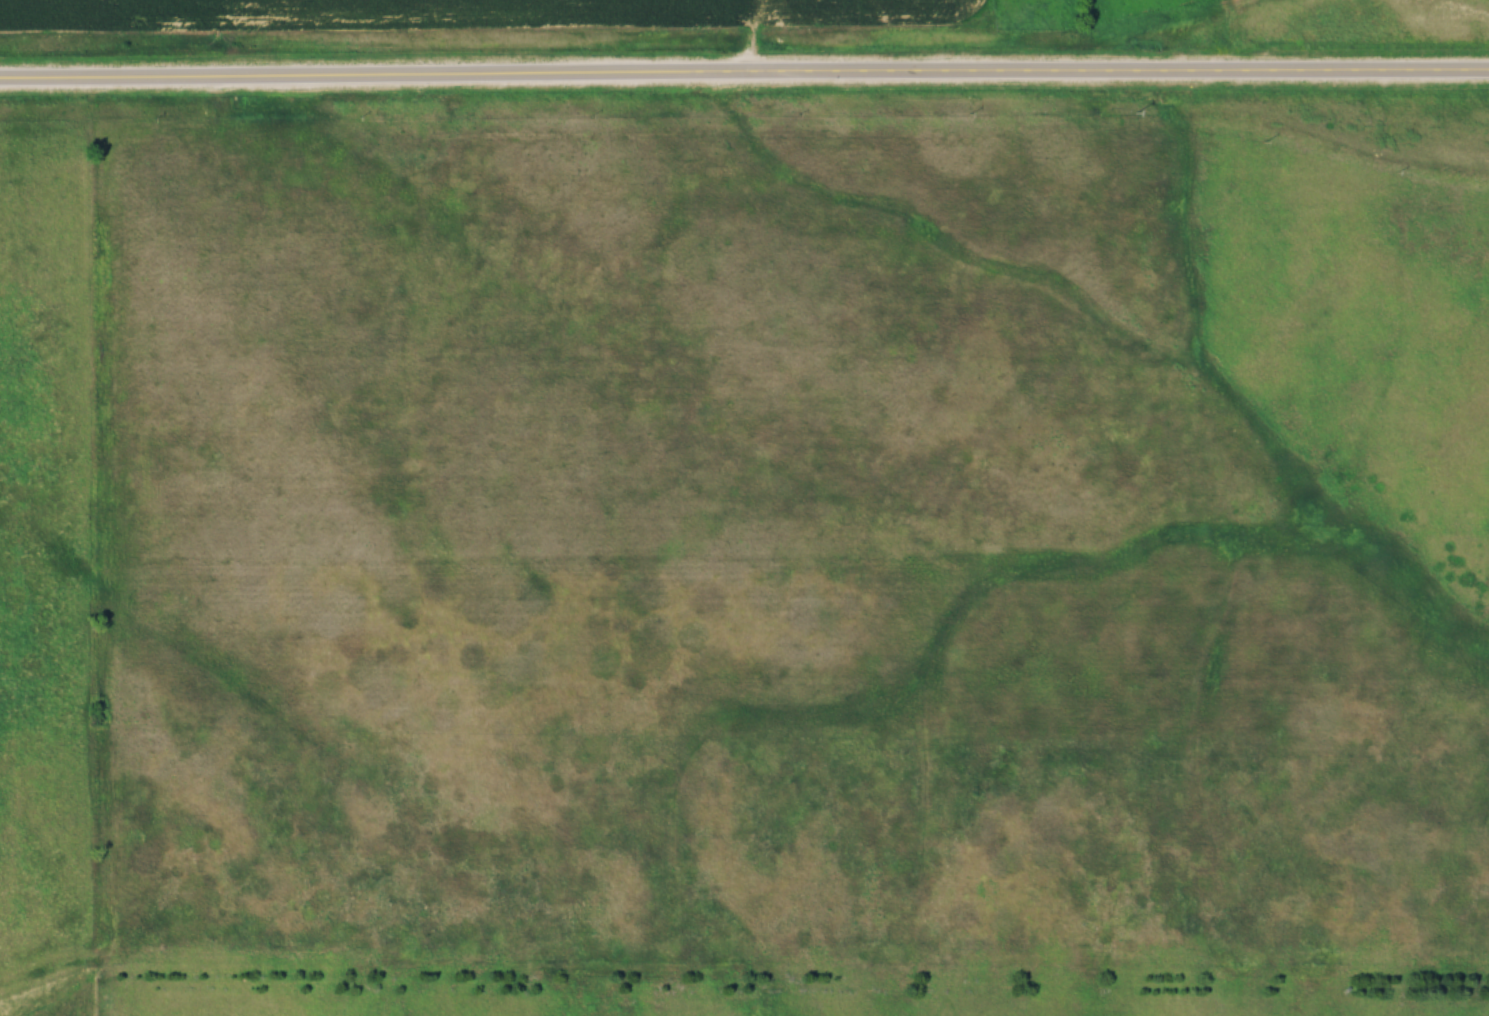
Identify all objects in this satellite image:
crop: (106, 15)
road: (744, 78)

